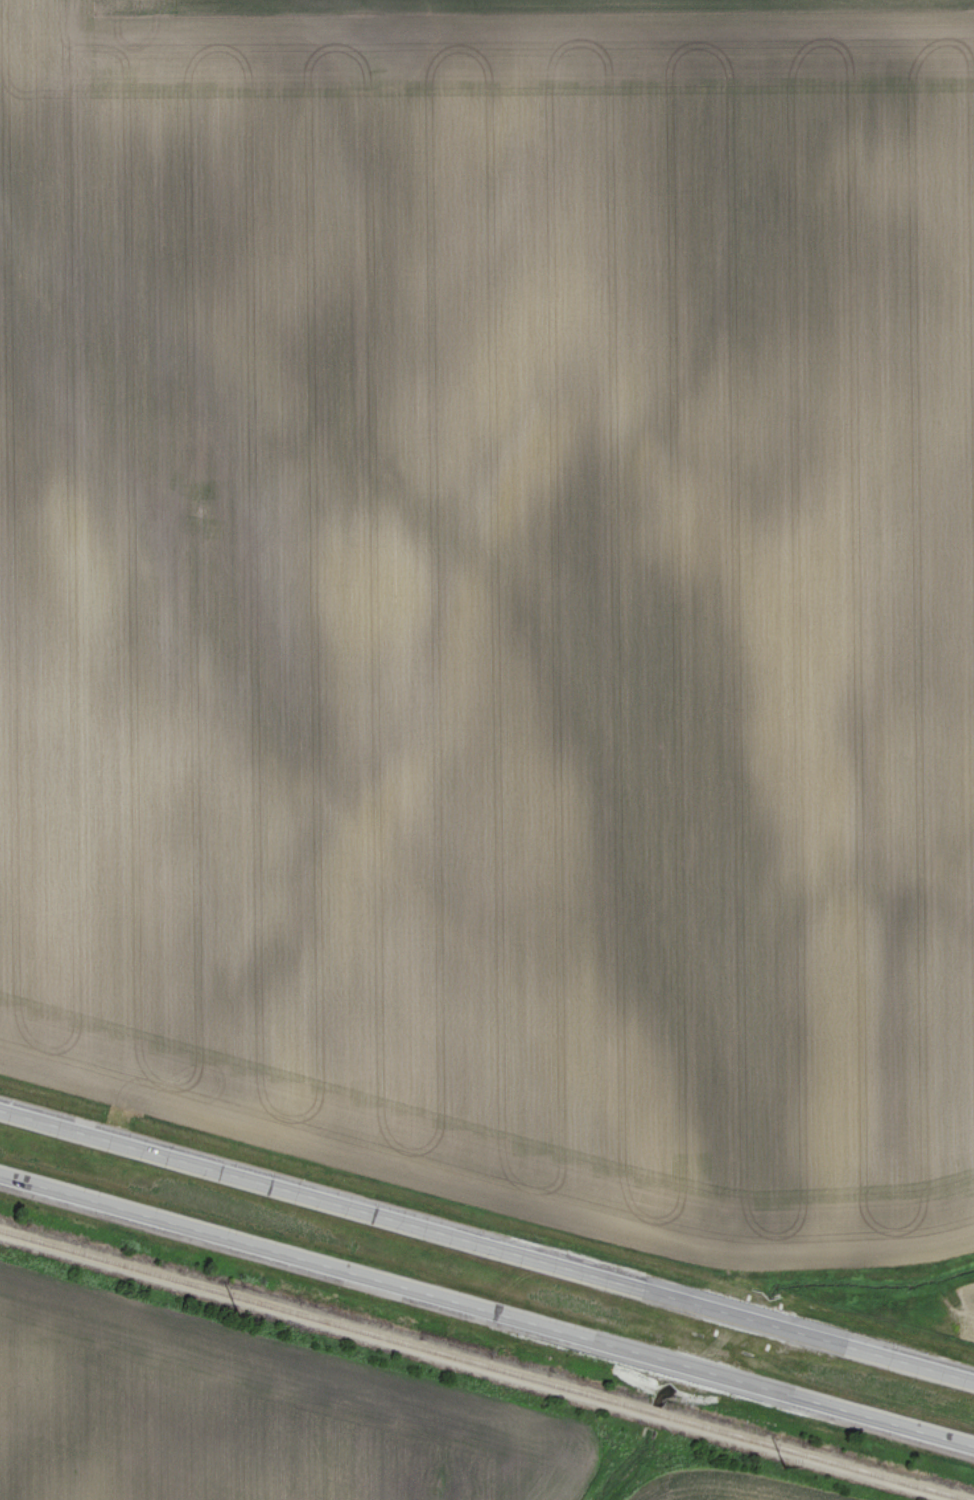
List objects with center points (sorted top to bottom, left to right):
road: (486, 1245)
road: (487, 1307)
power tower: (238, 1315)
railway: (431, 1382)
power tower: (783, 1465)

